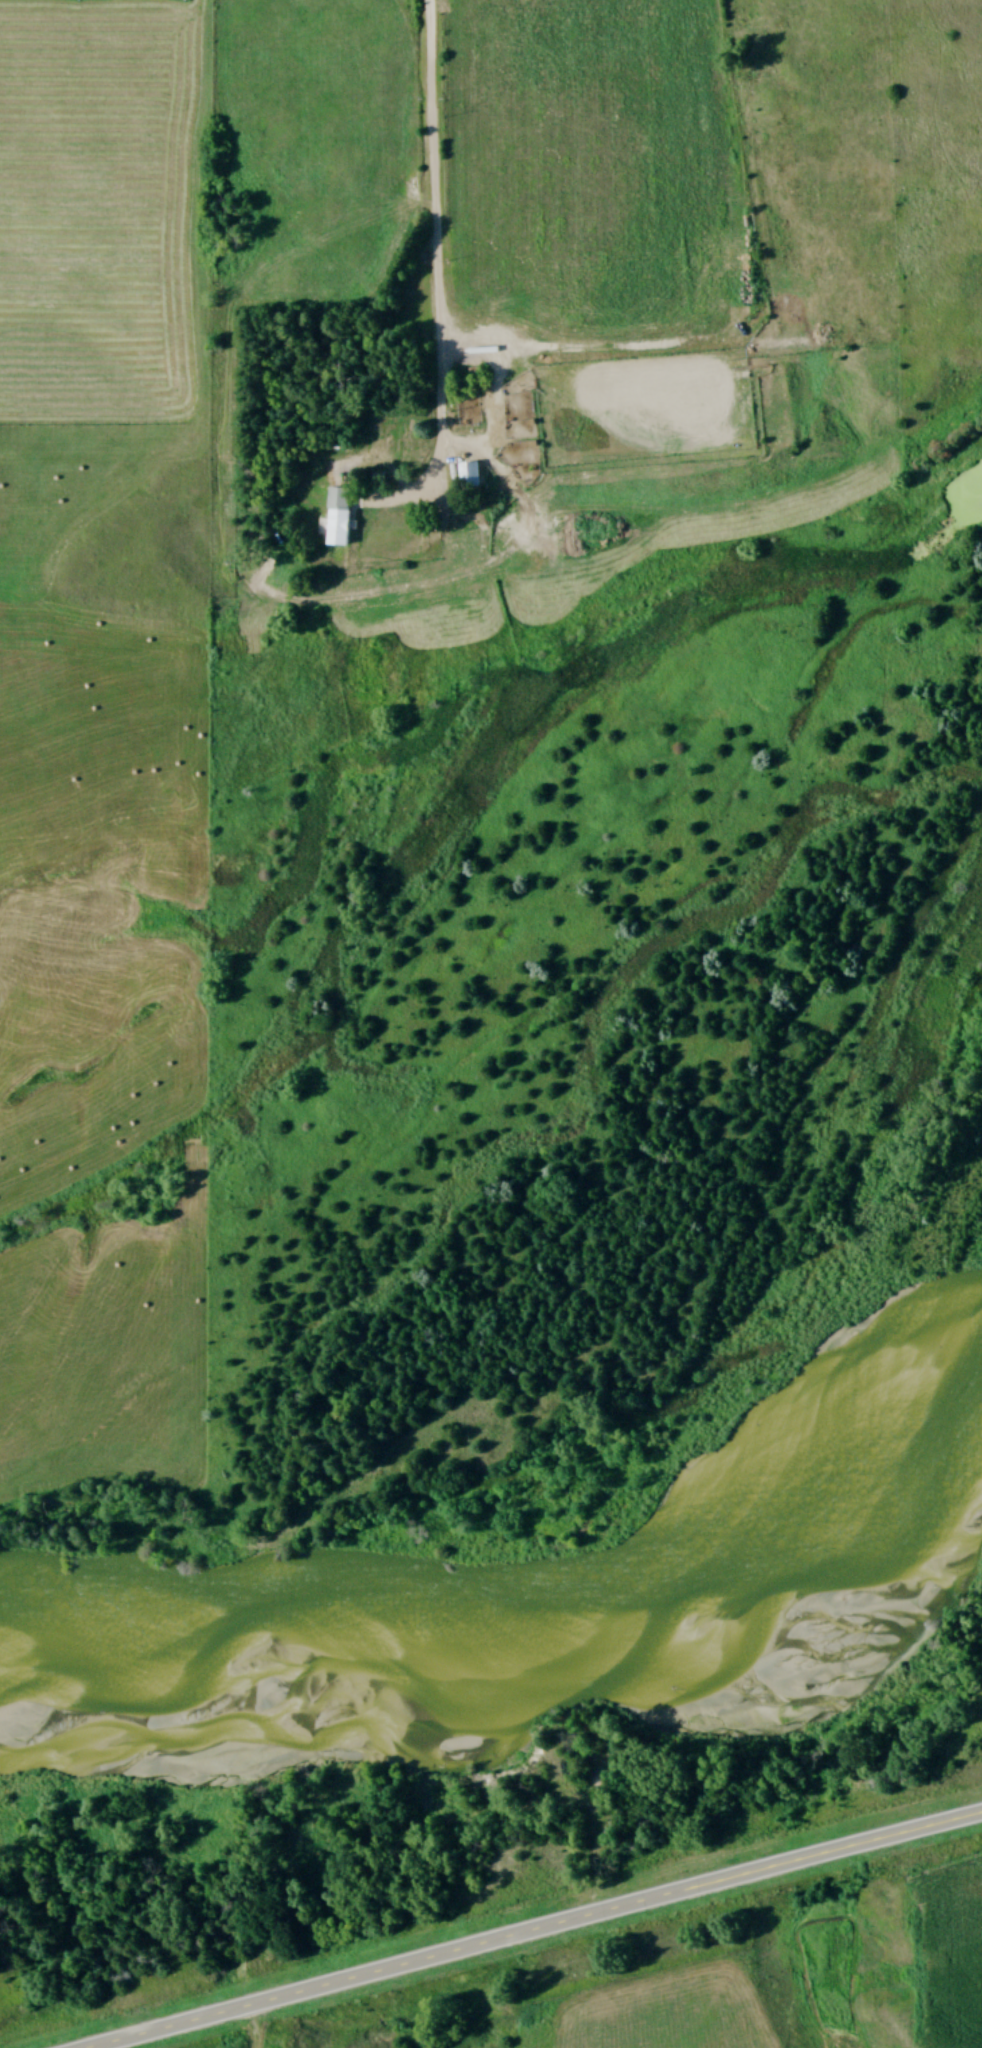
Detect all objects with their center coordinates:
road: (438, 277)
building: (473, 478)
building: (342, 520)
river: (504, 1592)
road: (537, 1928)

